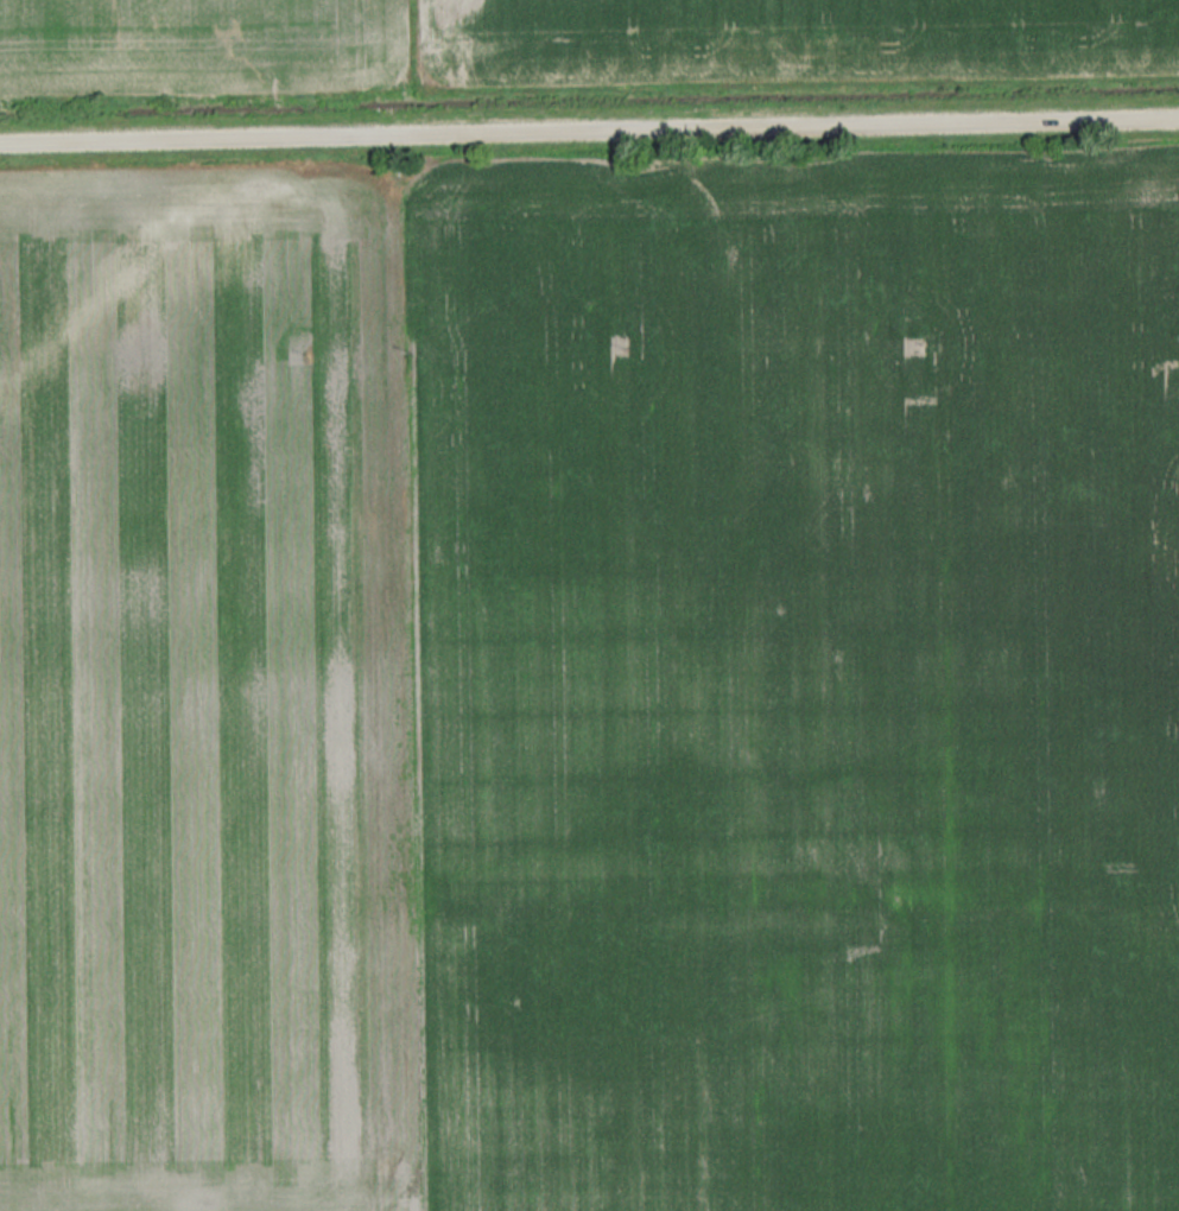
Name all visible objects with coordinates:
road: (589, 133)

